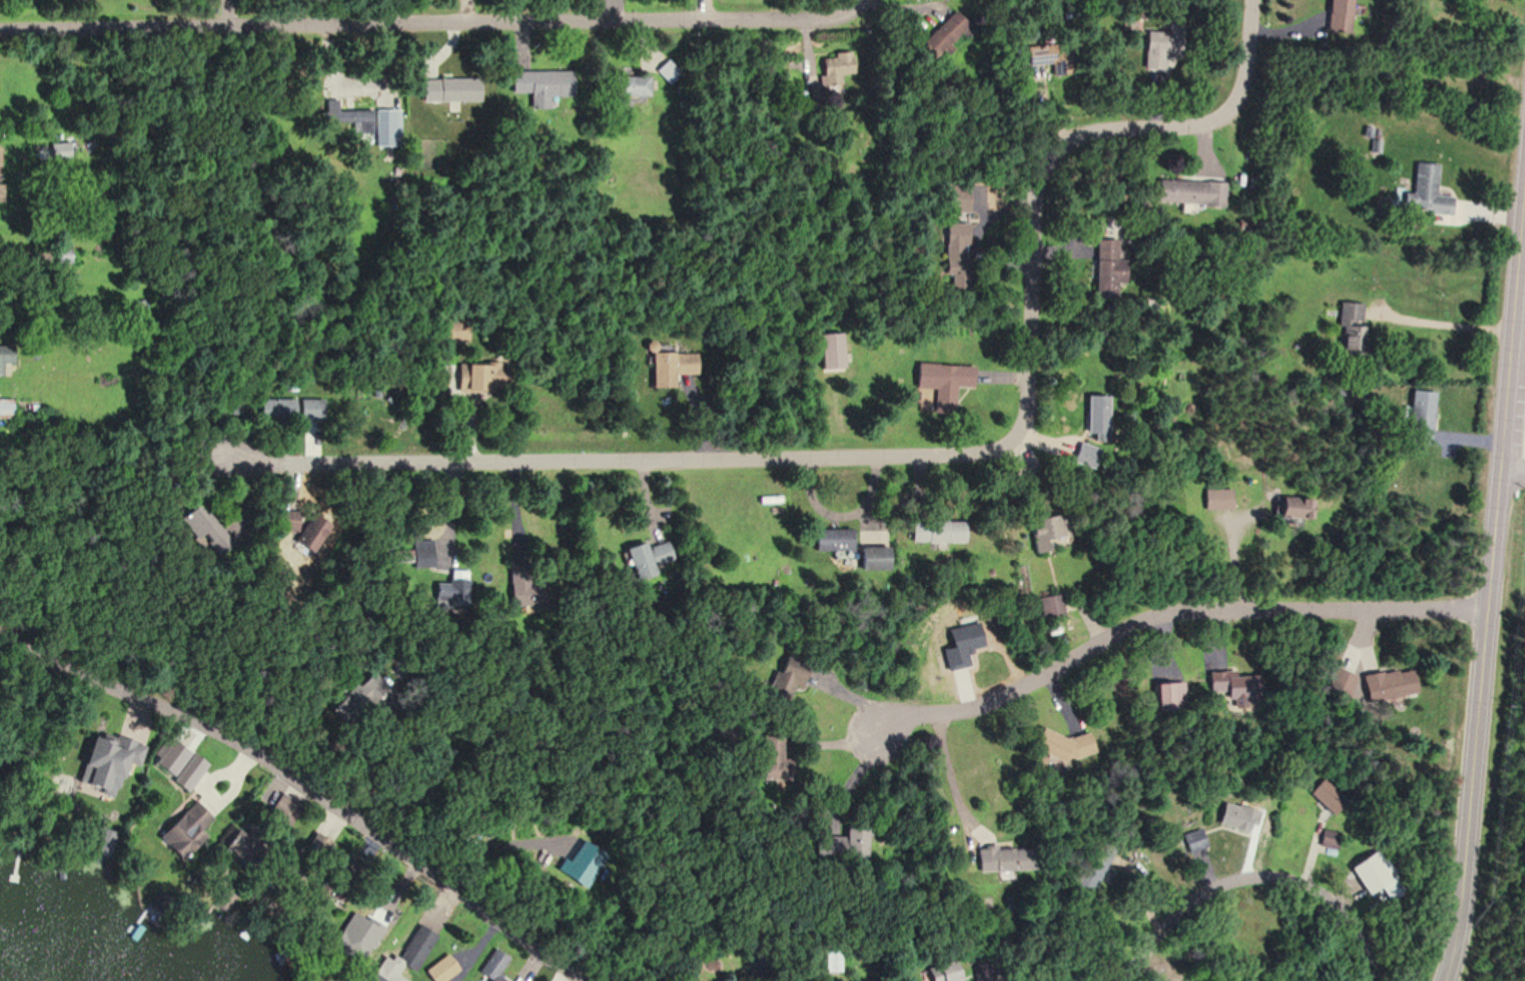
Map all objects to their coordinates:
building: (1339, 15)
road: (432, 22)
building: (945, 37)
building: (1162, 45)
building: (1039, 55)
building: (539, 83)
building: (630, 87)
building: (827, 88)
building: (450, 90)
building: (384, 127)
building: (0, 185)
building: (1190, 192)
building: (1423, 192)
building: (956, 254)
building: (1107, 269)
road: (1452, 319)
building: (1352, 329)
building: (453, 330)
building: (830, 351)
road: (1519, 353)
building: (5, 355)
building: (670, 368)
building: (481, 377)
building: (944, 381)
building: (231, 405)
building: (4, 407)
building: (1096, 415)
building: (1420, 416)
building: (1085, 454)
road: (910, 456)
road: (1514, 469)
building: (1217, 498)
building: (1291, 510)
park: (1515, 513)
building: (286, 519)
building: (1044, 528)
building: (204, 530)
building: (936, 530)
building: (312, 536)
building: (645, 558)
building: (520, 583)
road: (1491, 601)
building: (1051, 606)
road: (1174, 612)
building: (786, 678)
building: (1337, 683)
building: (1234, 685)
building: (1384, 685)
building: (1168, 696)
building: (1052, 743)
building: (772, 758)
building: (179, 765)
road: (946, 779)
road: (315, 795)
building: (1330, 796)
building: (283, 808)
building: (1238, 818)
building: (191, 823)
building: (1333, 839)
building: (1196, 840)
building: (1003, 858)
road: (1259, 872)
building: (1383, 875)
building: (358, 947)
building: (406, 956)
building: (837, 961)
building: (493, 966)
building: (442, 969)

